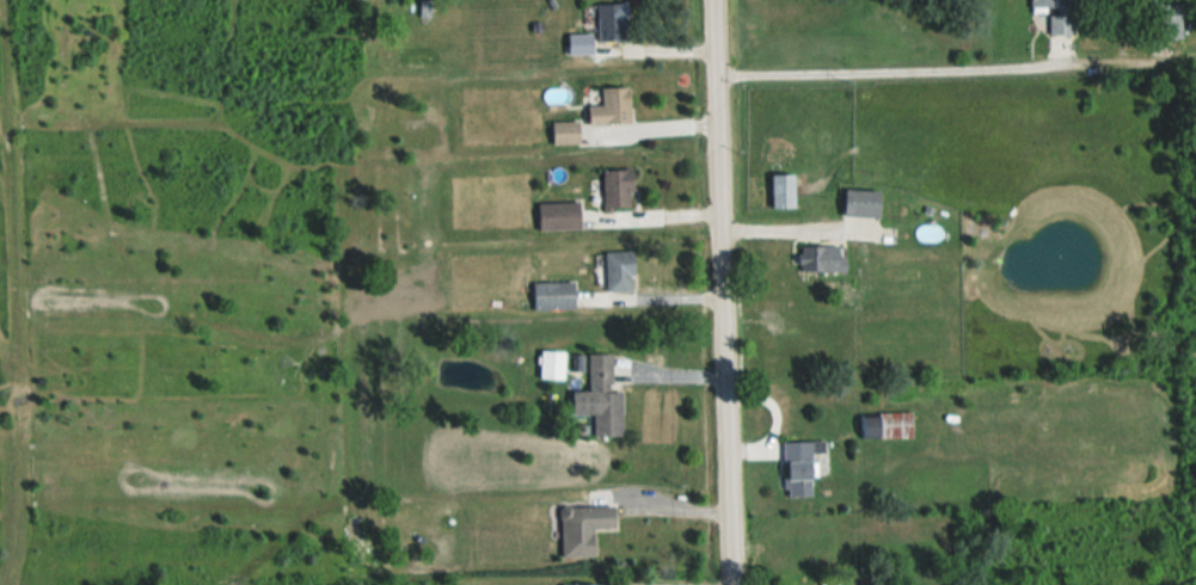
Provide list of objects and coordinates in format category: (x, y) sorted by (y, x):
building: (1055, 14)
building: (602, 21)
building: (1164, 21)
road: (890, 68)
building: (603, 105)
building: (560, 133)
building: (612, 190)
building: (777, 192)
building: (857, 204)
building: (554, 216)
road: (792, 227)
building: (818, 260)
building: (614, 272)
road: (728, 291)
building: (548, 297)
building: (546, 365)
building: (595, 399)
building: (883, 426)
building: (796, 467)
road: (673, 504)
building: (585, 526)
building: (587, 584)

